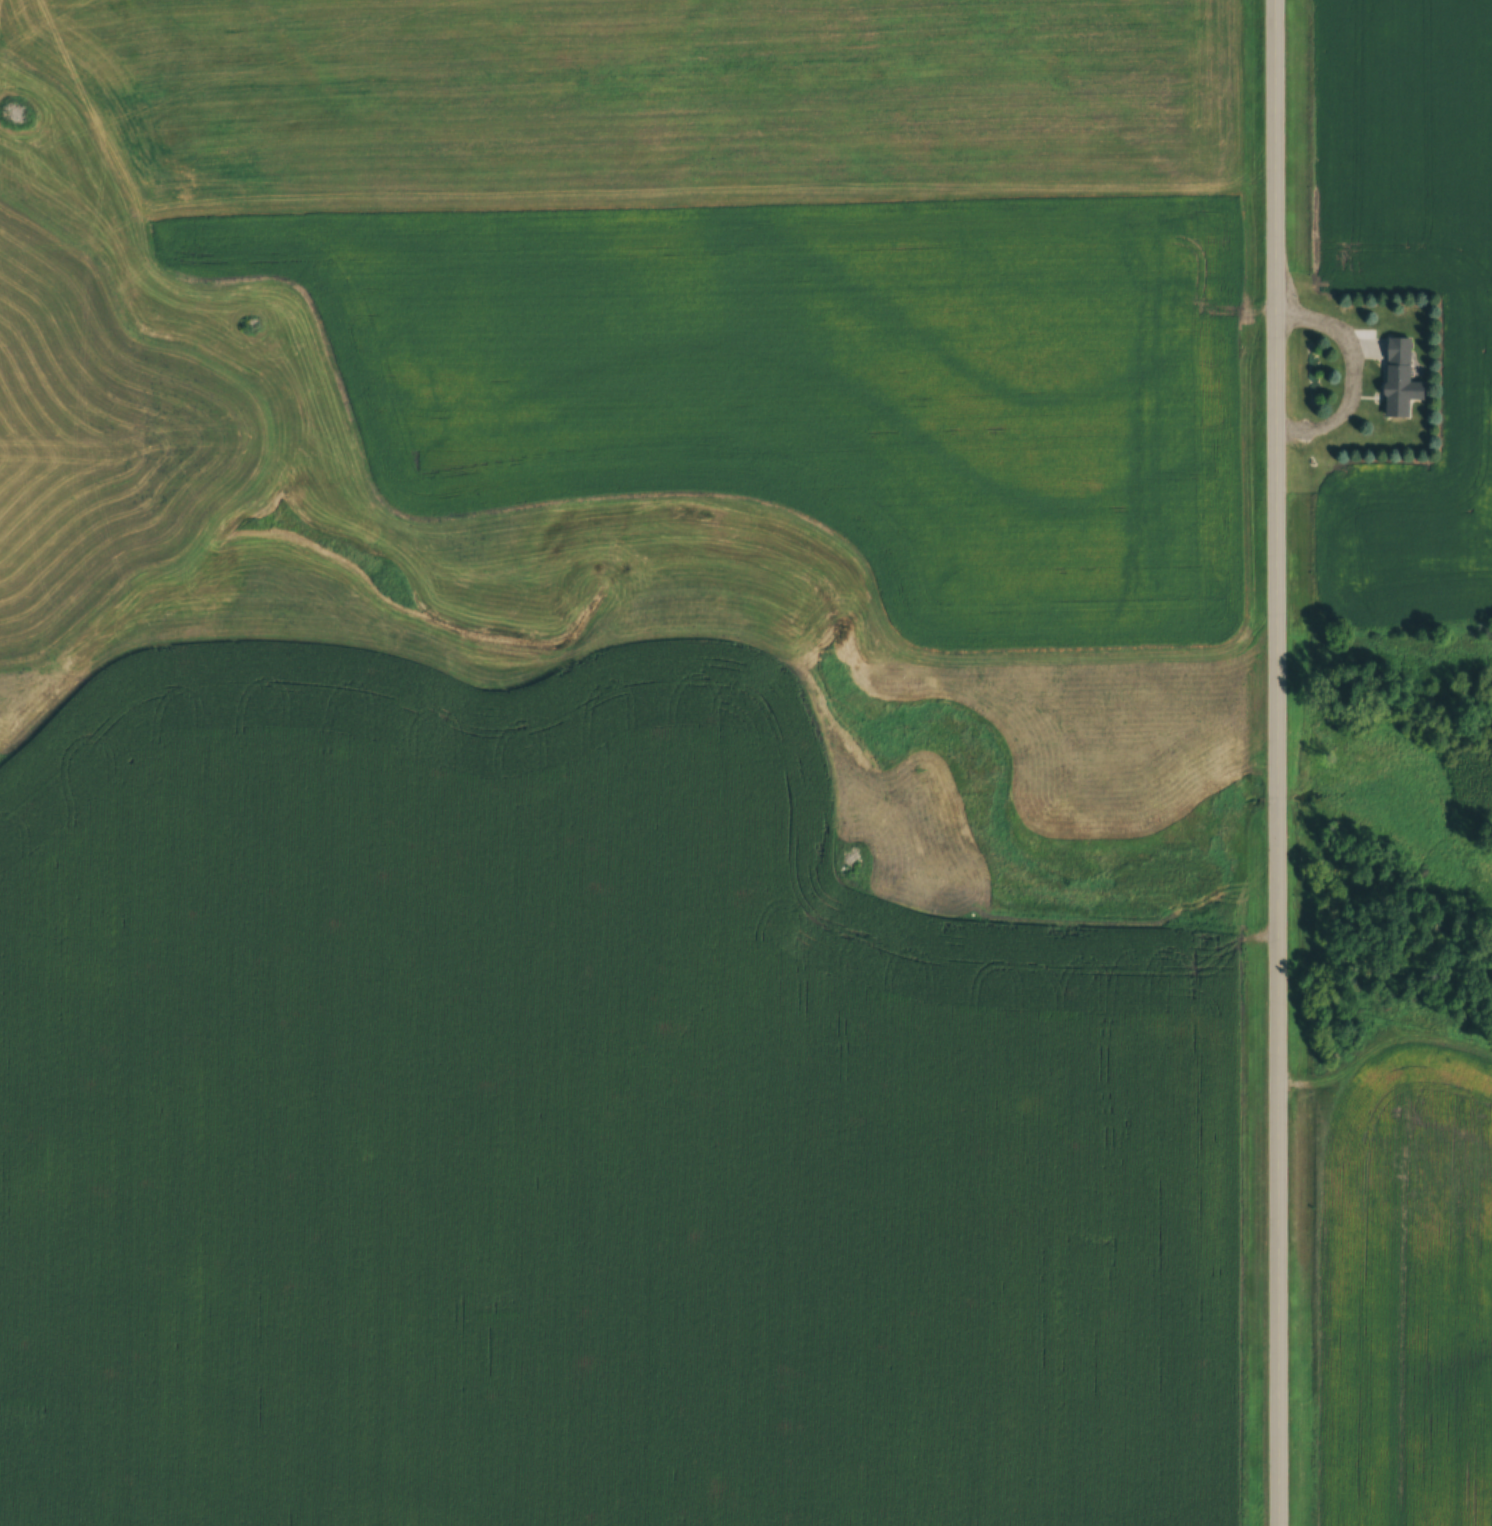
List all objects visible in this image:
building: (1395, 380)
road: (1276, 763)

